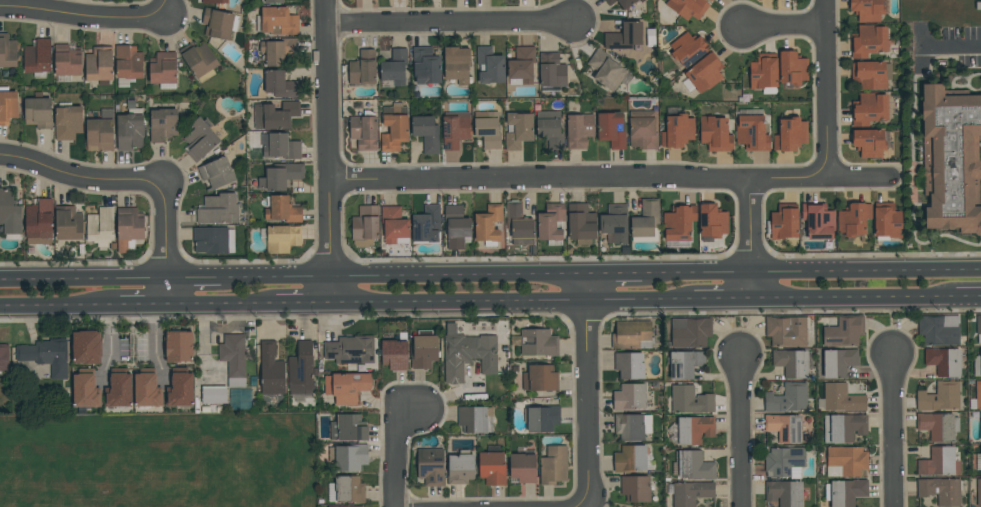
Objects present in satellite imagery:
building: (416, 0)
building: (709, 0)
building: (711, 0)
building: (272, 1)
building: (641, 1)
building: (214, 2)
building: (621, 3)
building: (688, 8)
building: (869, 9)
road: (94, 19)
building: (277, 21)
road: (448, 21)
building: (219, 23)
road: (784, 24)
building: (625, 36)
building: (868, 41)
road: (950, 45)
parking lot: (971, 46)
building: (688, 49)
building: (277, 50)
building: (8, 51)
building: (38, 58)
building: (67, 60)
building: (199, 61)
building: (456, 64)
building: (99, 65)
building: (128, 65)
building: (489, 65)
building: (426, 66)
building: (521, 66)
building: (395, 67)
building: (363, 68)
building: (792, 68)
building: (163, 70)
building: (551, 70)
building: (606, 70)
building: (764, 73)
building: (703, 74)
building: (871, 74)
building: (281, 84)
road: (826, 89)
building: (7, 105)
building: (869, 109)
building: (38, 112)
building: (275, 115)
building: (68, 122)
building: (162, 124)
building: (394, 127)
building: (550, 128)
building: (455, 129)
building: (487, 129)
building: (677, 129)
building: (130, 130)
building: (518, 130)
building: (579, 130)
building: (611, 130)
building: (642, 130)
building: (752, 130)
building: (364, 131)
building: (100, 132)
building: (426, 132)
building: (715, 134)
building: (790, 134)
building: (200, 139)
building: (869, 143)
building: (279, 146)
road: (328, 152)
building: (951, 159)
building: (216, 173)
building: (280, 176)
road: (608, 176)
road: (94, 181)
building: (218, 209)
building: (282, 209)
building: (10, 214)
building: (854, 219)
building: (818, 220)
building: (38, 222)
building: (646, 222)
building: (712, 222)
building: (783, 222)
building: (887, 222)
building: (69, 223)
building: (550, 223)
building: (581, 223)
building: (426, 224)
building: (519, 224)
building: (614, 224)
building: (395, 225)
building: (488, 225)
building: (678, 225)
building: (365, 226)
building: (101, 227)
building: (456, 227)
building: (129, 228)
building: (282, 238)
building: (213, 240)
road: (753, 240)
road: (167, 258)
road: (812, 277)
road: (615, 278)
road: (403, 279)
road: (194, 281)
road: (83, 282)
road: (968, 298)
road: (855, 300)
road: (724, 301)
road: (513, 302)
road: (303, 304)
road: (221, 305)
road: (138, 306)
road: (55, 307)
building: (978, 327)
building: (938, 329)
building: (787, 331)
building: (844, 331)
building: (690, 332)
building: (631, 335)
building: (538, 342)
building: (177, 346)
building: (86, 347)
building: (350, 350)
building: (424, 351)
building: (395, 353)
building: (467, 354)
building: (46, 356)
building: (4, 358)
building: (233, 358)
building: (943, 361)
building: (792, 362)
building: (836, 362)
building: (685, 364)
building: (629, 365)
building: (977, 365)
building: (301, 369)
building: (270, 370)
building: (540, 378)
building: (347, 386)
building: (146, 388)
building: (180, 388)
building: (85, 389)
building: (118, 389)
road: (589, 392)
building: (214, 394)
building: (978, 395)
building: (630, 397)
building: (939, 397)
building: (787, 398)
building: (840, 399)
building: (690, 400)
building: (542, 418)
building: (474, 420)
building: (632, 426)
building: (938, 426)
building: (784, 427)
building: (843, 427)
building: (348, 428)
building: (694, 429)
road: (894, 432)
road: (742, 434)
road: (399, 448)
building: (349, 457)
building: (630, 458)
building: (847, 461)
building: (785, 462)
building: (939, 462)
building: (978, 464)
building: (553, 465)
building: (694, 465)
building: (431, 466)
building: (523, 467)
building: (460, 468)
building: (492, 468)
building: (635, 488)
building: (346, 489)
building: (941, 490)
building: (845, 491)
building: (691, 492)
building: (784, 493)
building: (978, 493)
building: (345, 506)

